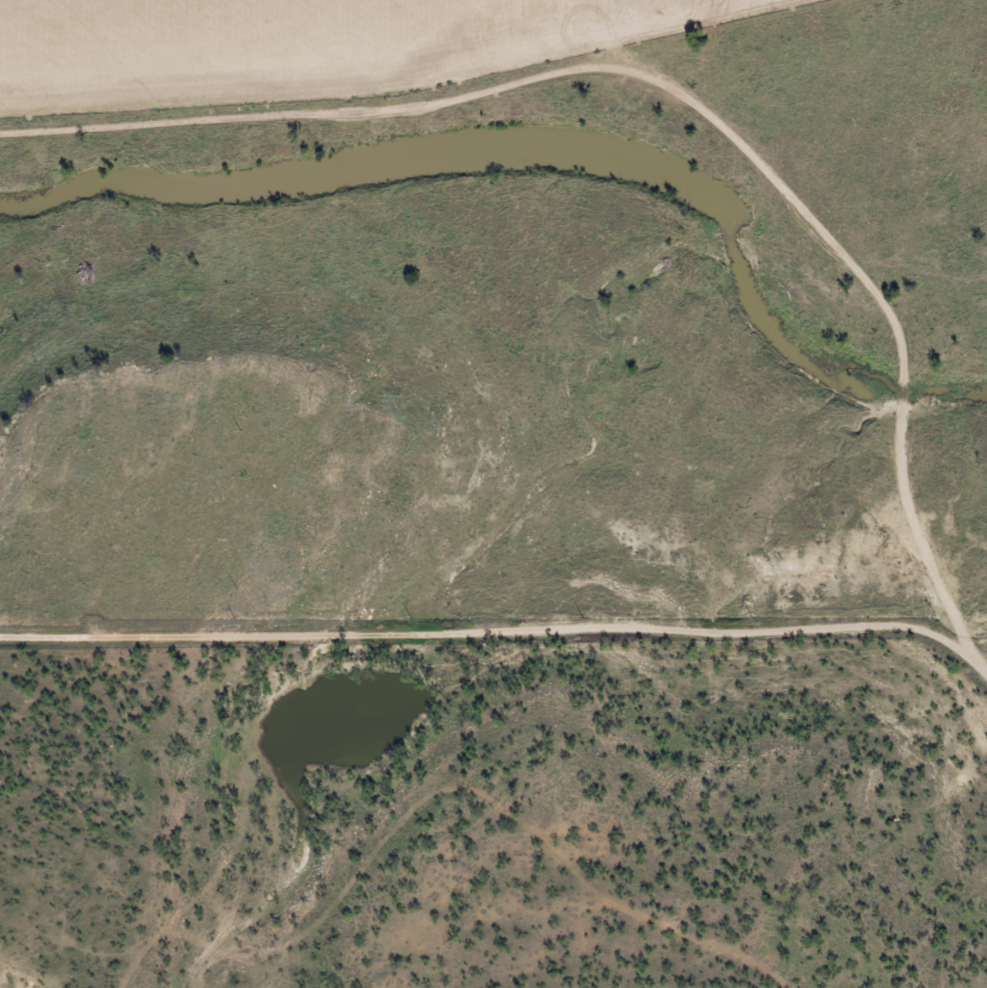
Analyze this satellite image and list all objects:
road: (677, 98)
road: (470, 633)

